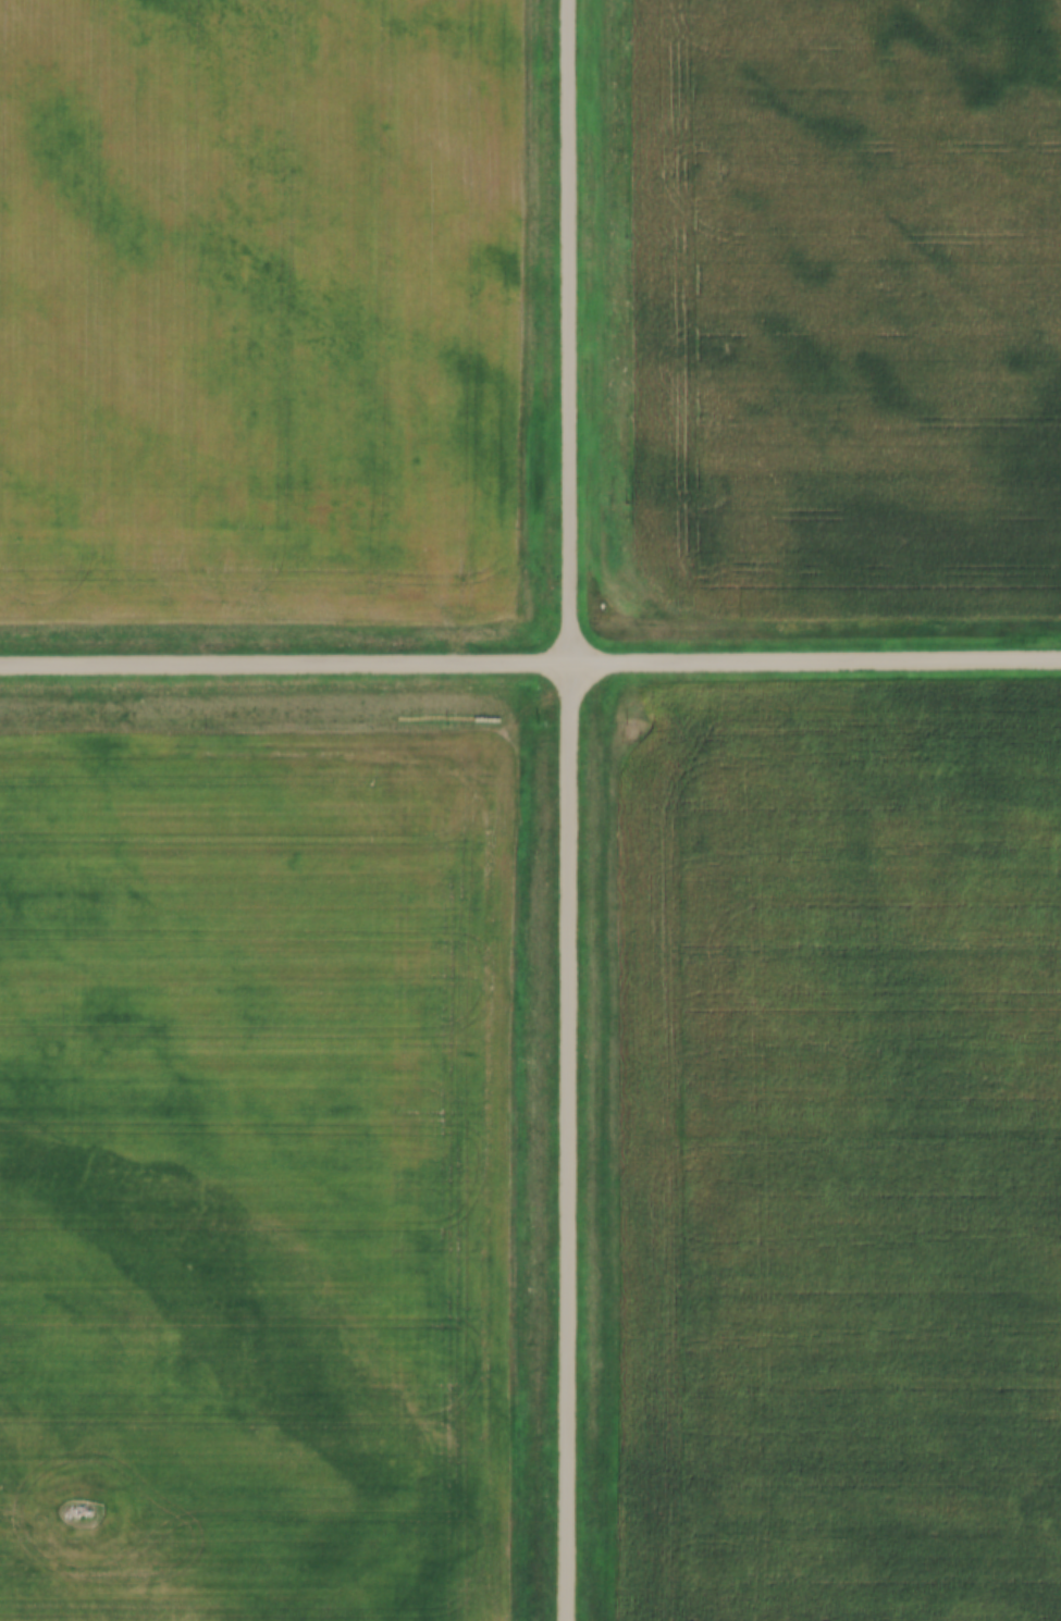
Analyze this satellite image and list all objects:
road: (530, 665)
road: (569, 809)

